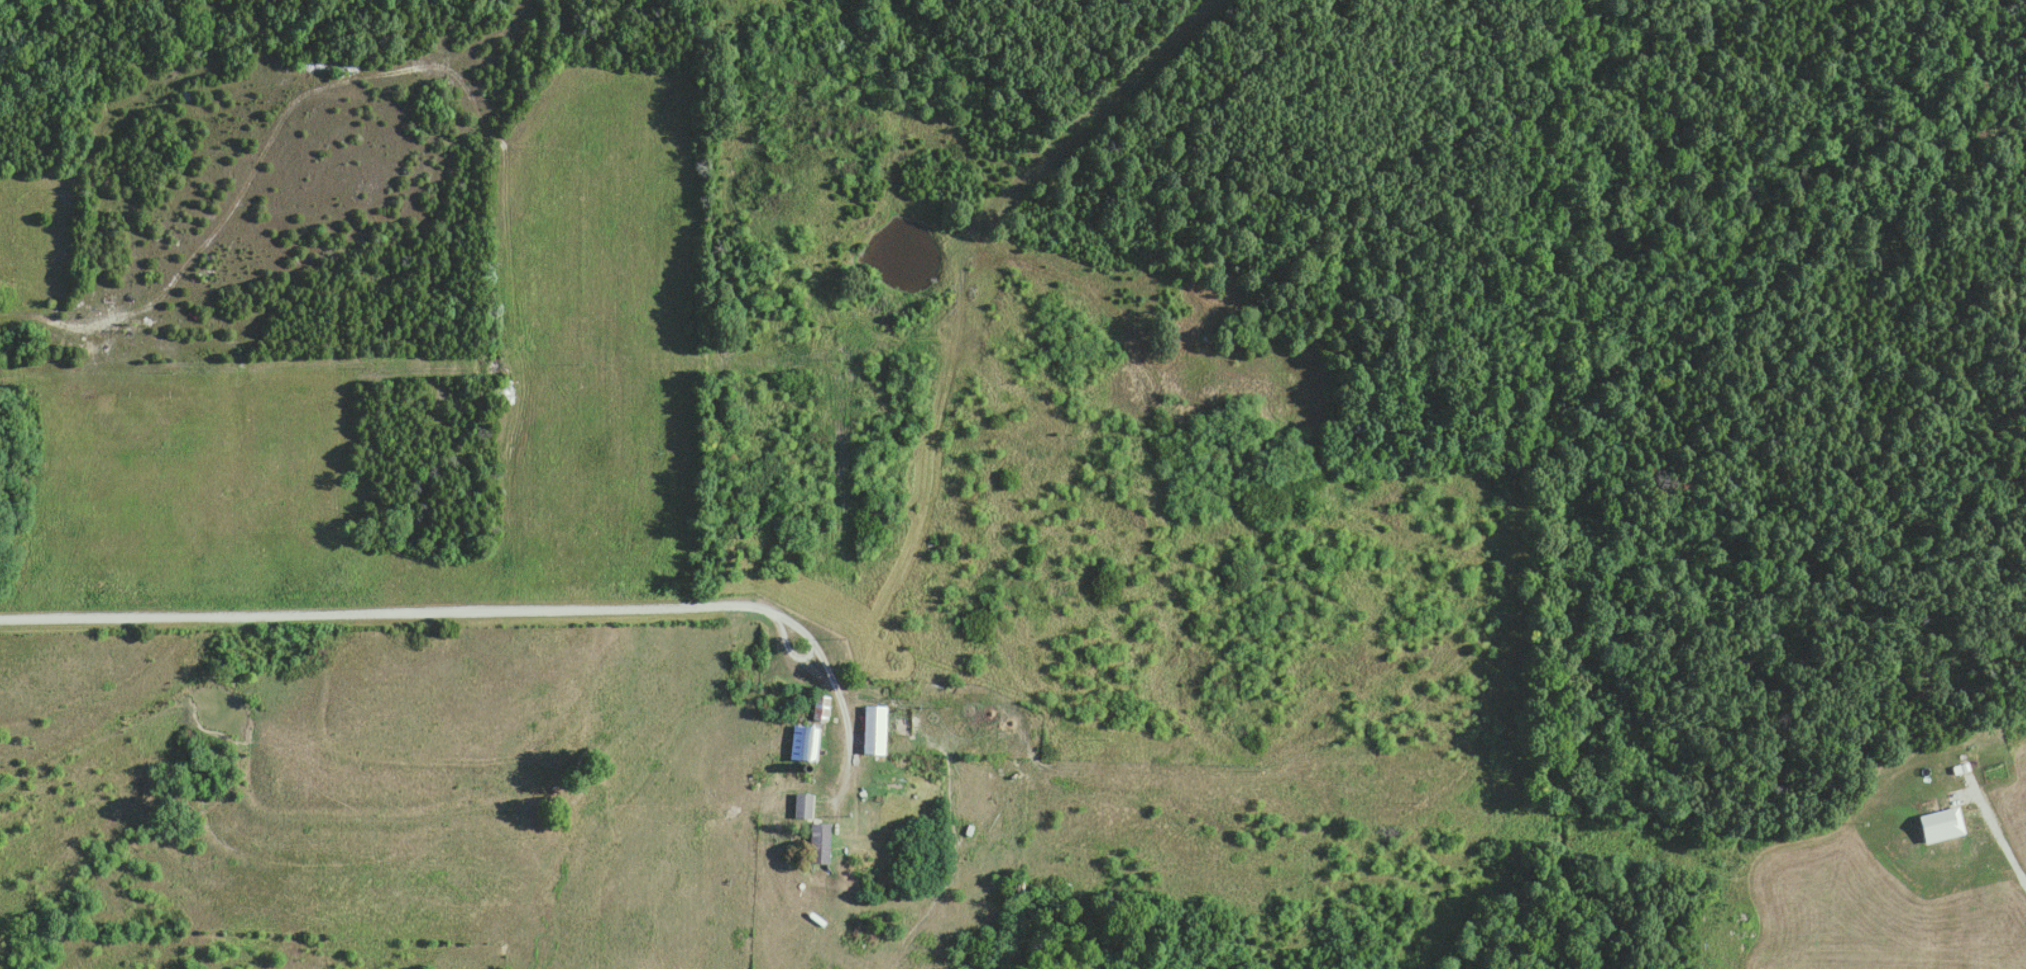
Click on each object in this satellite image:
road: (257, 162)
road: (504, 609)
building: (875, 728)
building: (805, 742)
building: (803, 804)
building: (821, 842)

